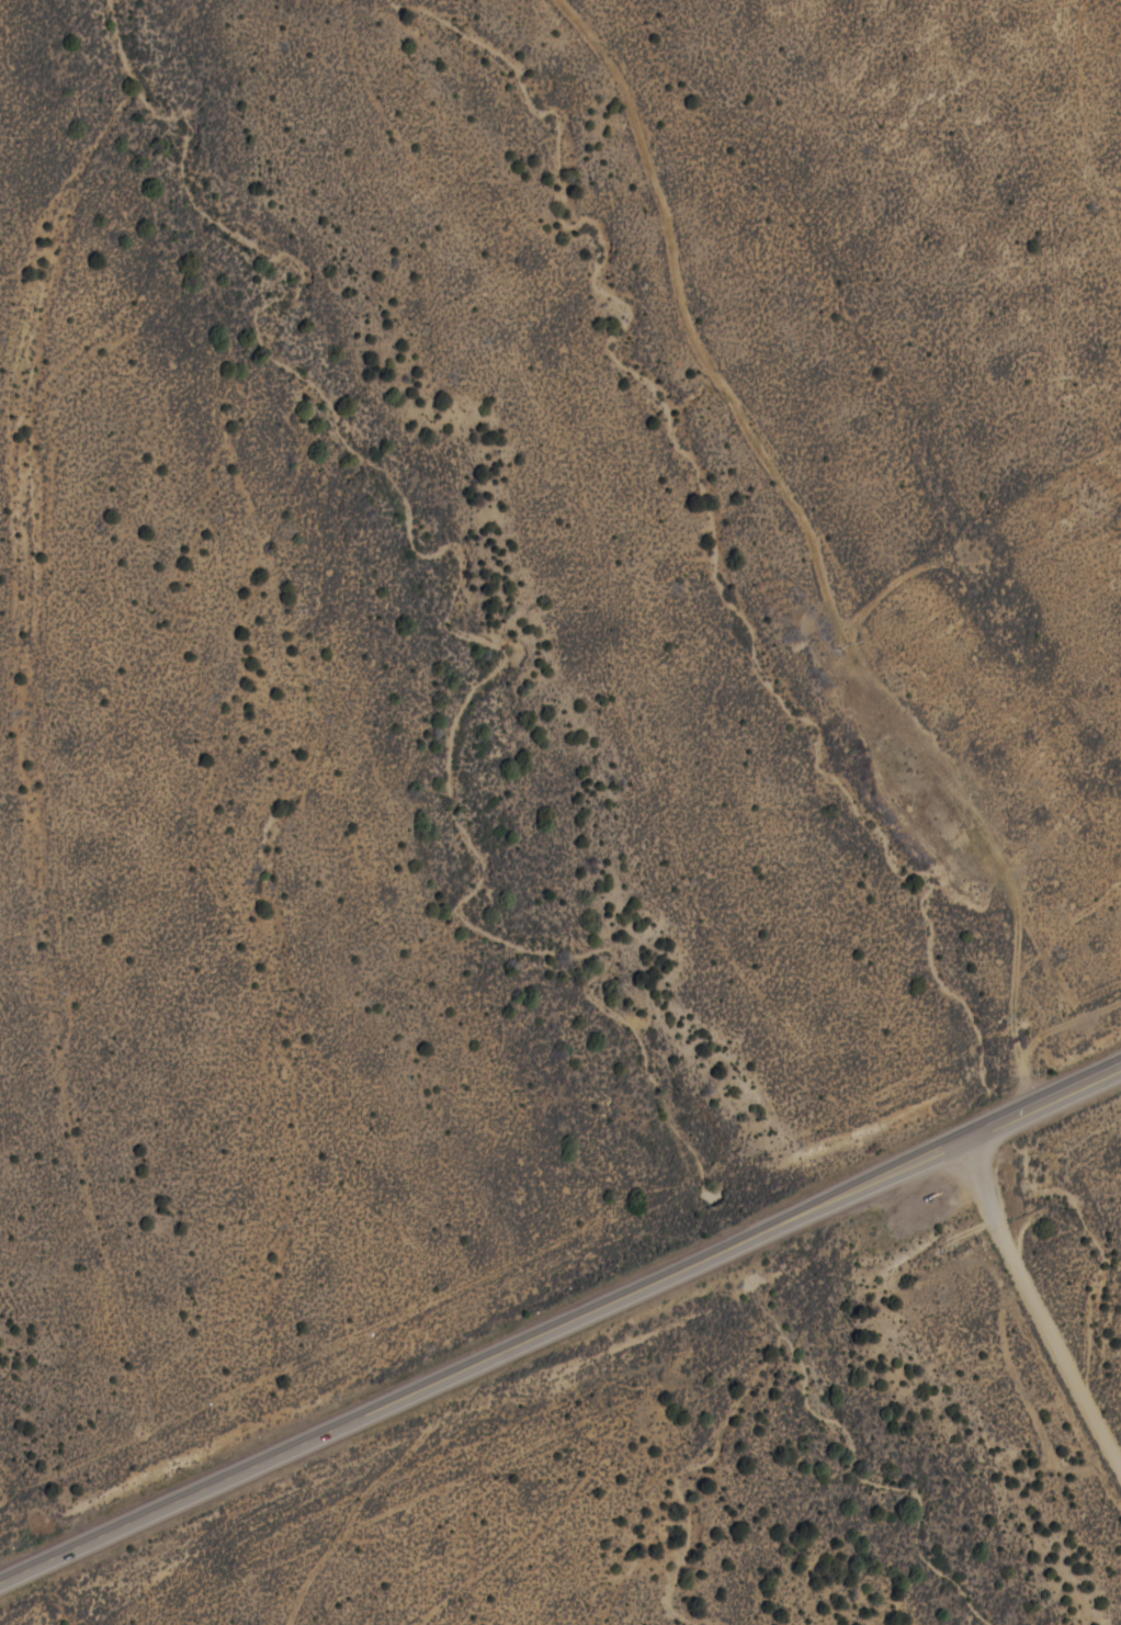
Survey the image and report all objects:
road: (819, 551)
road: (1035, 1298)
road: (559, 1321)

